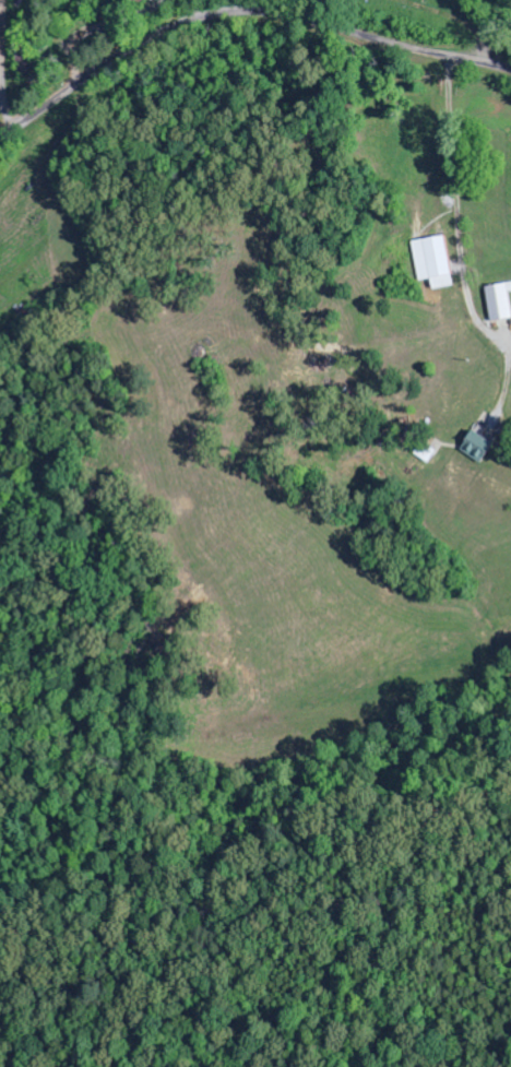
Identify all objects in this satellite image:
building: (140, 1)
road: (228, 14)
road: (499, 67)
building: (435, 262)
building: (500, 301)
building: (479, 447)

